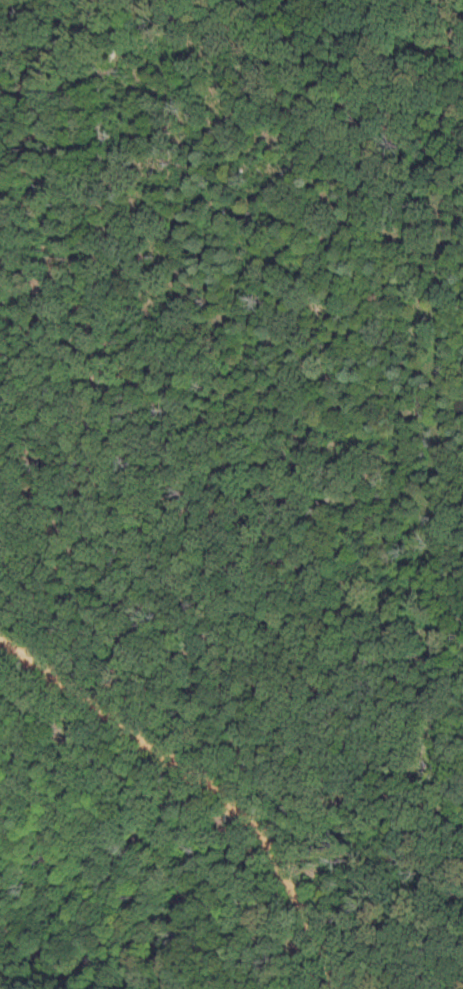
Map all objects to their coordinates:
road: (207, 782)

